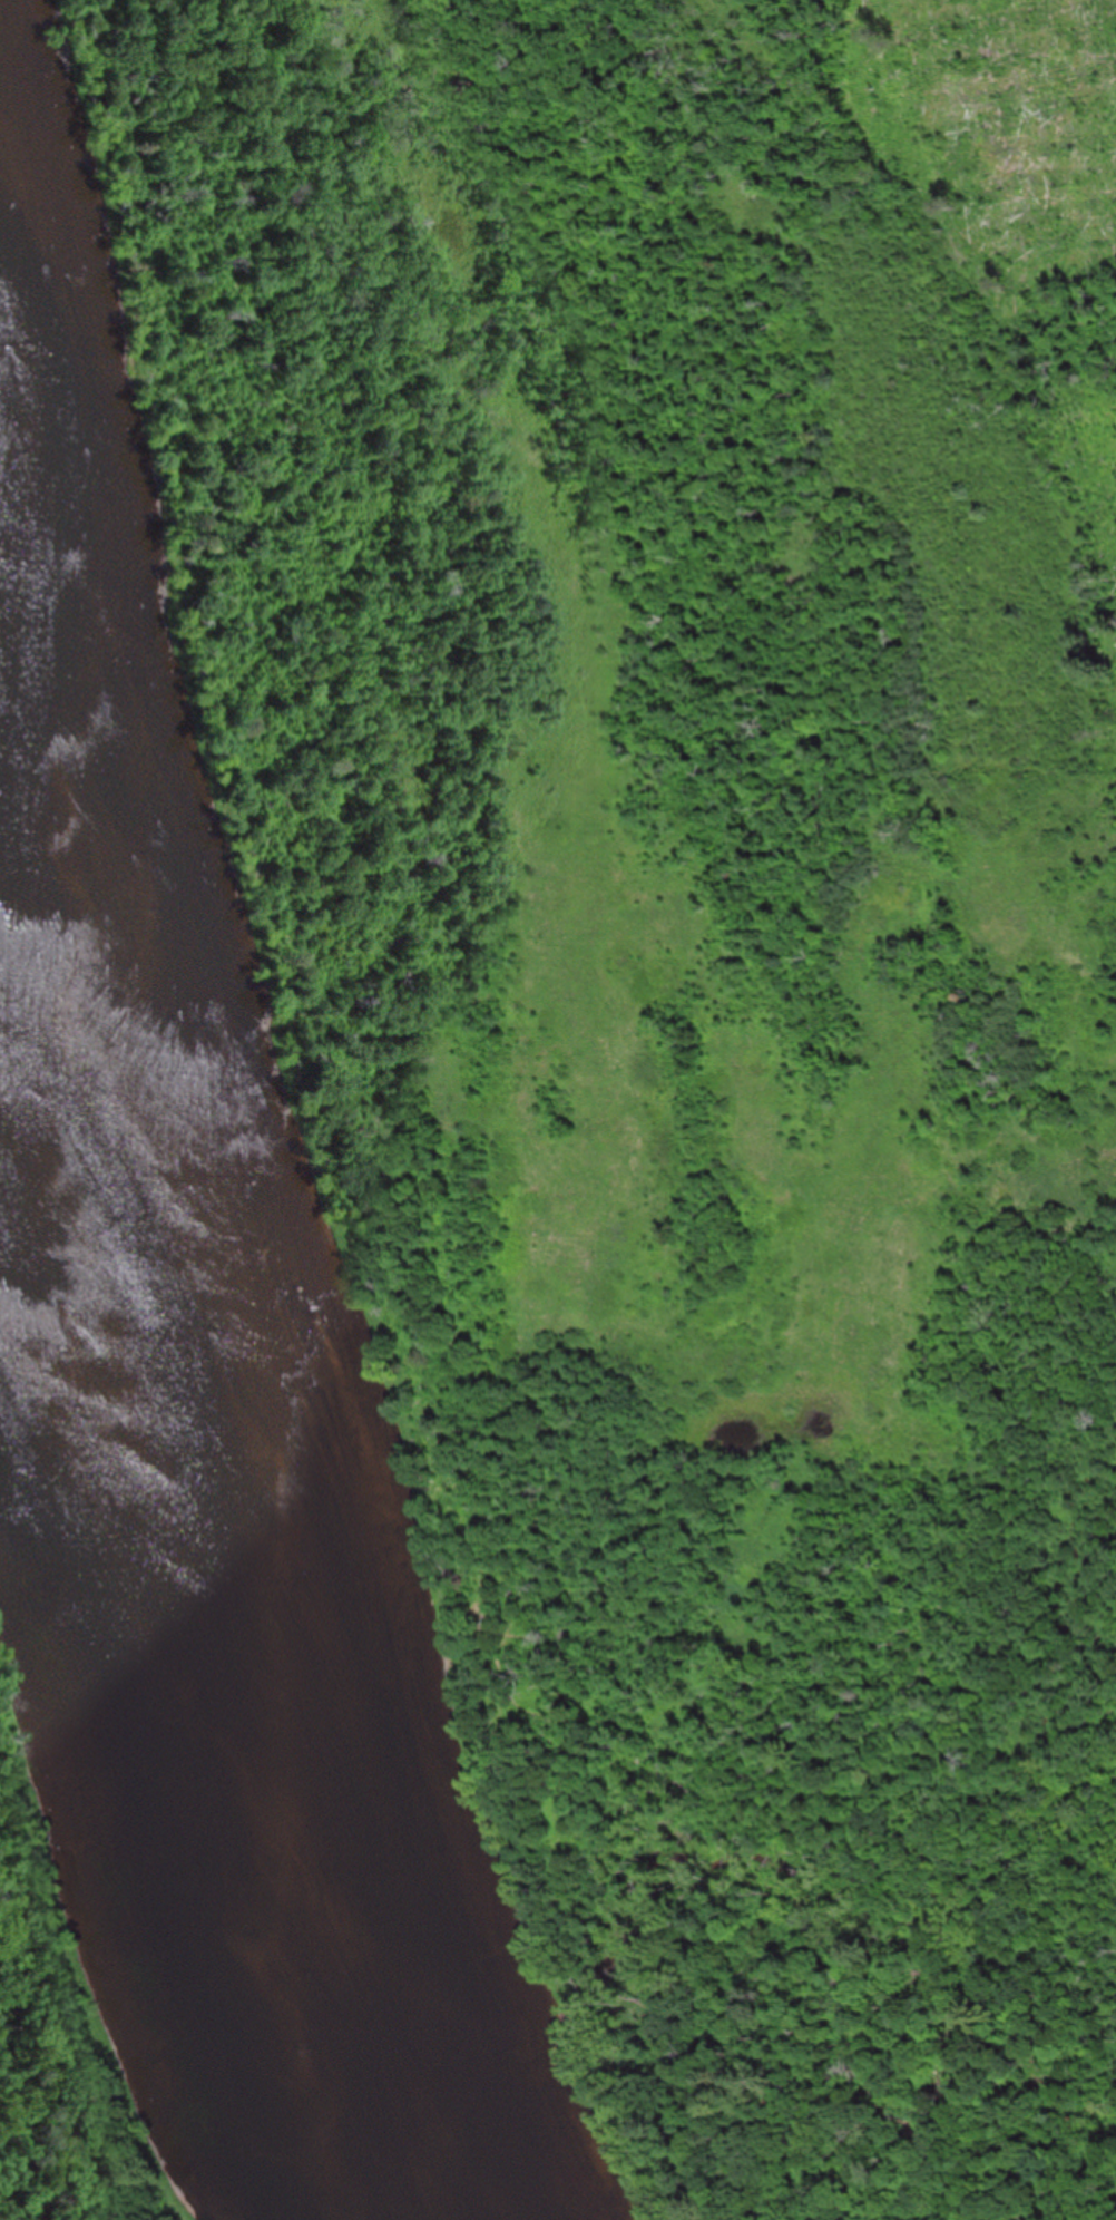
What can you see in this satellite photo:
road: (401, 1240)
river: (196, 1545)
park: (137, 1848)

